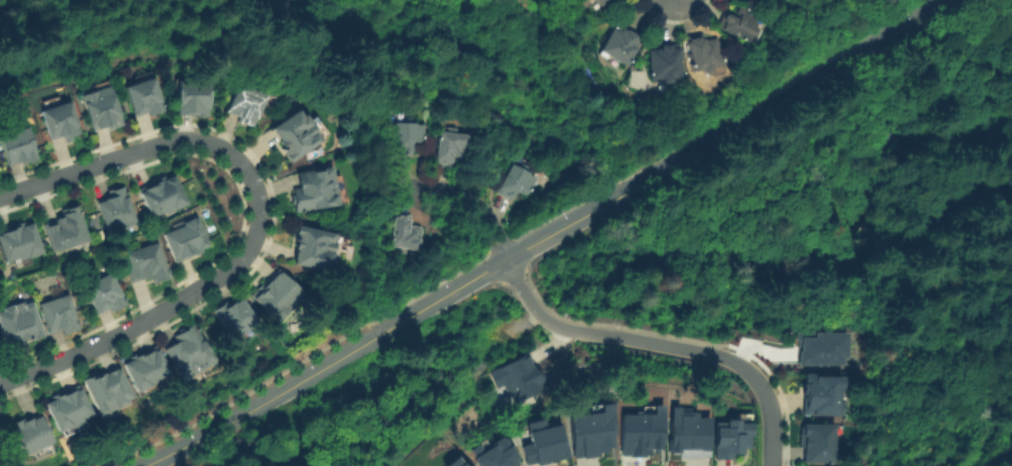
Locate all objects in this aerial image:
building: (591, 0)
building: (605, 3)
building: (737, 23)
road: (888, 32)
building: (621, 43)
building: (701, 53)
building: (664, 63)
building: (146, 93)
building: (195, 98)
building: (248, 99)
building: (103, 104)
building: (61, 117)
building: (299, 128)
building: (407, 138)
building: (18, 144)
building: (449, 146)
building: (515, 181)
building: (318, 187)
building: (164, 193)
road: (467, 199)
building: (118, 208)
road: (257, 222)
building: (67, 227)
building: (403, 234)
building: (186, 238)
building: (20, 239)
building: (316, 244)
building: (145, 262)
road: (488, 268)
building: (104, 293)
building: (281, 297)
building: (60, 313)
building: (237, 317)
building: (18, 321)
road: (664, 343)
building: (808, 348)
building: (191, 353)
building: (148, 367)
building: (515, 376)
building: (110, 392)
building: (819, 396)
building: (71, 411)
building: (591, 431)
building: (34, 435)
building: (641, 435)
building: (685, 435)
building: (733, 437)
building: (541, 443)
building: (814, 443)
building: (491, 454)
building: (453, 462)

